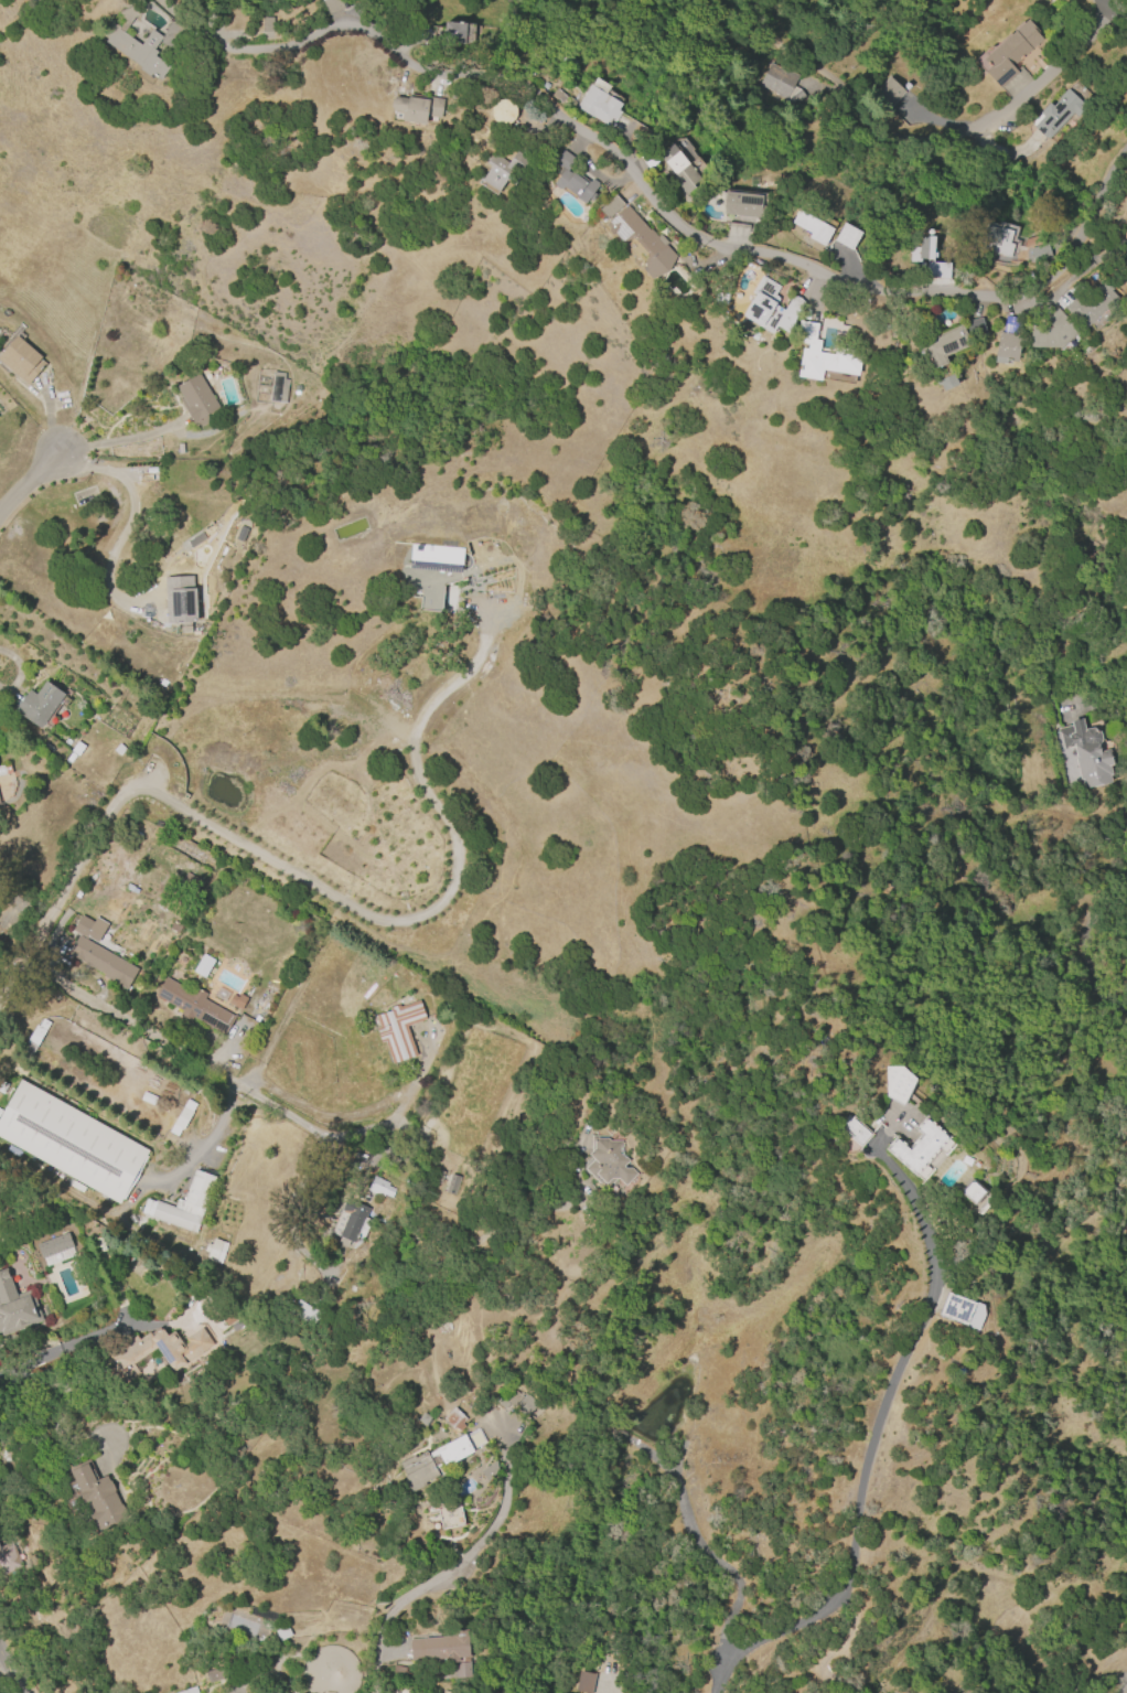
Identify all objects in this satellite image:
building: (375, 2)
road: (1116, 4)
building: (334, 6)
building: (267, 24)
road: (382, 31)
building: (453, 33)
building: (171, 35)
road: (776, 40)
building: (135, 43)
building: (1009, 53)
building: (782, 85)
building: (889, 93)
building: (559, 96)
building: (599, 104)
building: (417, 109)
building: (503, 111)
building: (1058, 114)
road: (979, 132)
building: (680, 169)
building: (502, 171)
building: (572, 180)
building: (741, 204)
building: (812, 227)
building: (847, 236)
building: (637, 237)
building: (995, 239)
building: (1038, 254)
building: (926, 257)
road: (837, 286)
building: (1091, 302)
building: (770, 308)
building: (976, 328)
building: (1051, 332)
building: (943, 346)
building: (1007, 347)
building: (822, 355)
building: (20, 361)
building: (947, 382)
building: (277, 388)
building: (197, 400)
road: (116, 441)
road: (25, 482)
road: (130, 519)
building: (240, 534)
building: (431, 581)
building: (181, 599)
building: (37, 704)
road: (1104, 707)
building: (77, 748)
building: (1086, 753)
building: (4, 770)
building: (0, 803)
road: (74, 875)
road: (450, 890)
building: (237, 900)
building: (175, 926)
building: (89, 928)
road: (1083, 954)
building: (101, 962)
building: (203, 966)
building: (193, 1005)
building: (398, 1029)
building: (34, 1037)
building: (898, 1083)
road: (240, 1087)
building: (0, 1111)
building: (181, 1118)
building: (859, 1129)
building: (74, 1142)
building: (917, 1147)
building: (607, 1161)
building: (451, 1185)
building: (379, 1187)
building: (972, 1191)
building: (182, 1204)
building: (350, 1222)
building: (55, 1250)
building: (214, 1251)
building: (15, 1306)
building: (956, 1309)
building: (228, 1314)
building: (305, 1314)
building: (237, 1324)
road: (68, 1344)
building: (179, 1352)
building: (508, 1399)
building: (525, 1404)
building: (454, 1419)
building: (426, 1421)
road: (876, 1425)
building: (431, 1464)
building: (96, 1496)
road: (696, 1542)
building: (9, 1557)
road: (453, 1567)
building: (282, 1632)
building: (442, 1648)
road: (10, 1670)
building: (462, 1670)
building: (583, 1682)
road: (9, 1687)
building: (401, 1689)
road: (1124, 1690)
building: (189, 1691)
building: (446, 1692)

